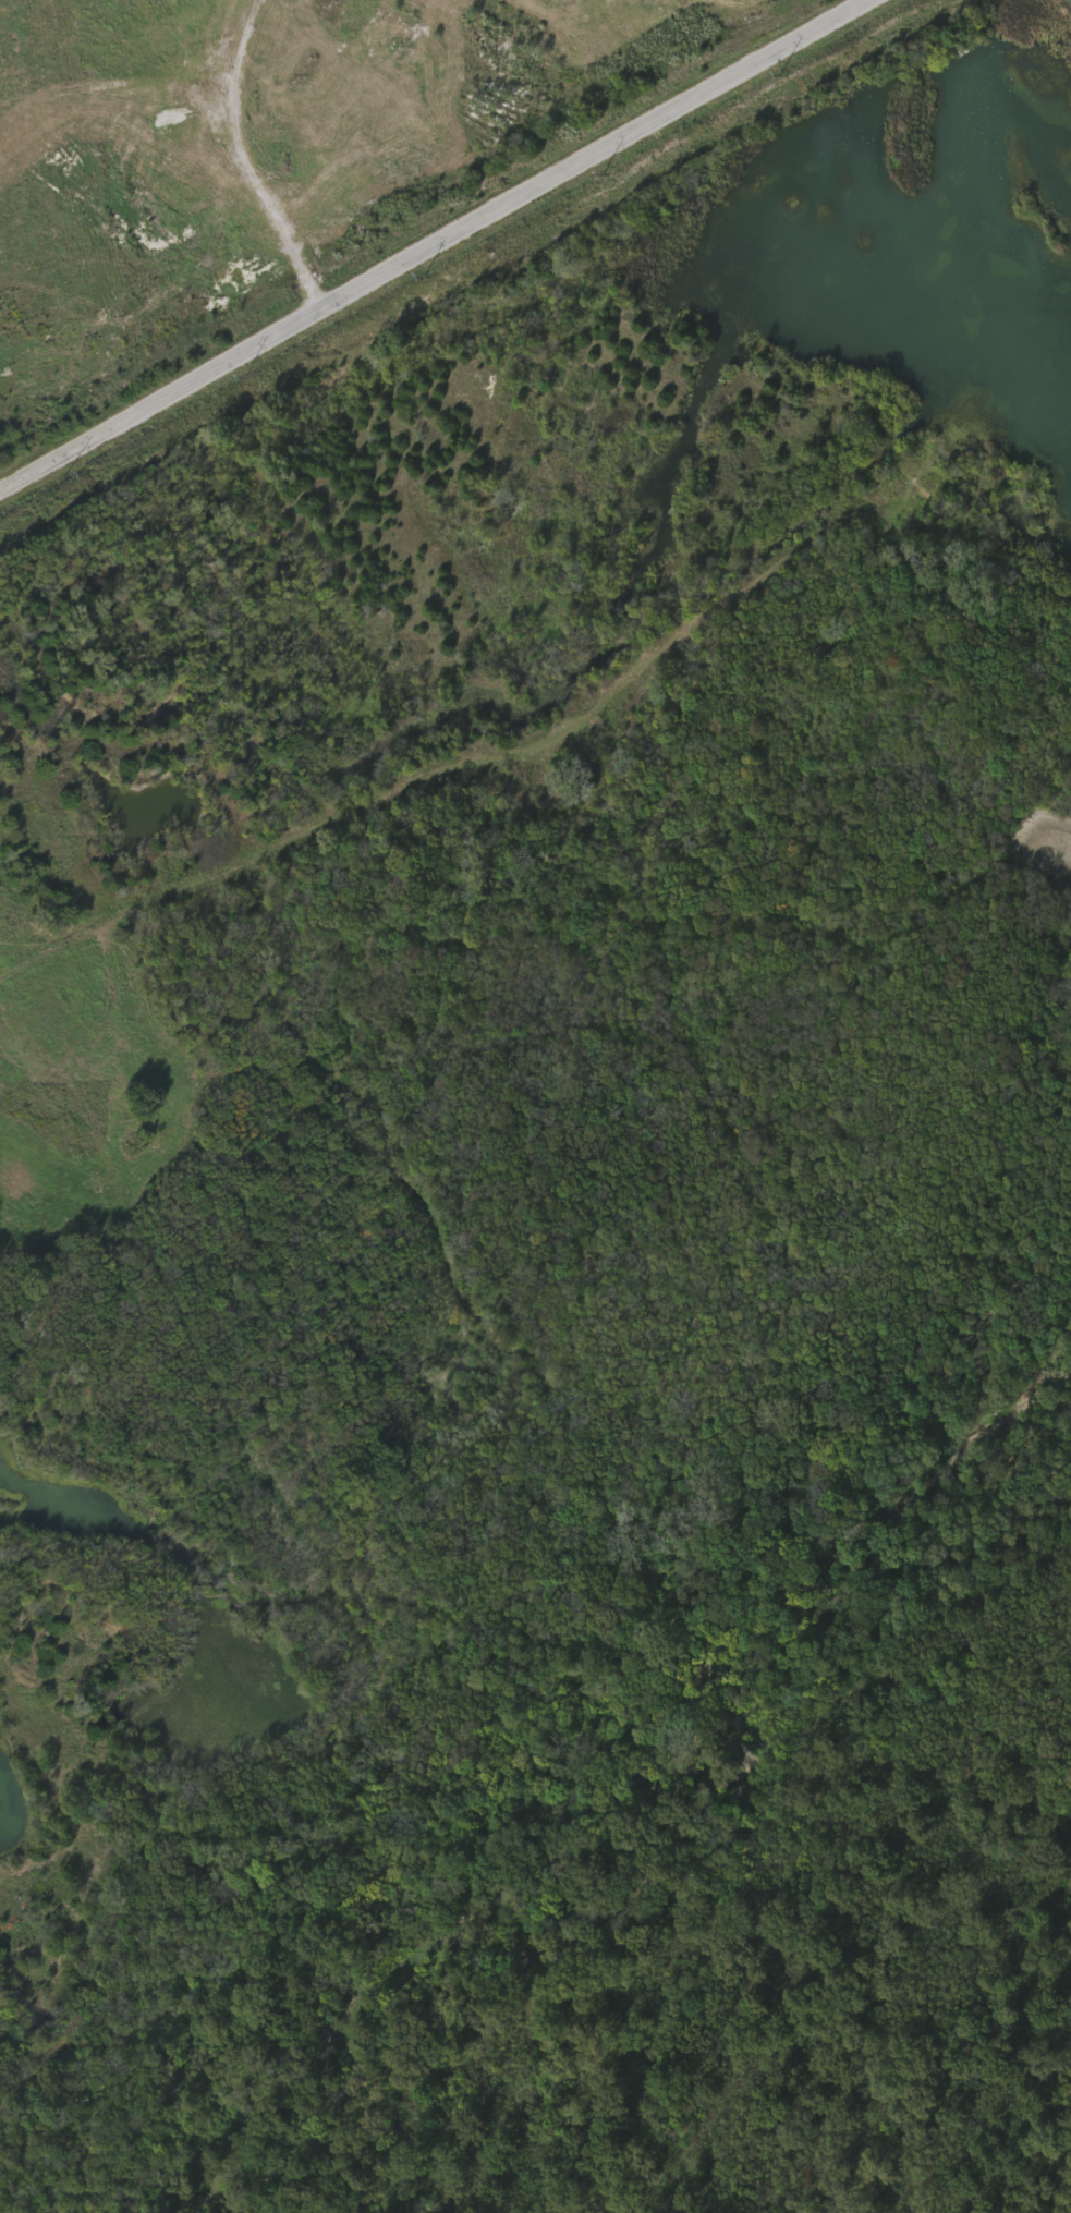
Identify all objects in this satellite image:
road: (247, 141)
road: (430, 243)
road: (315, 289)

